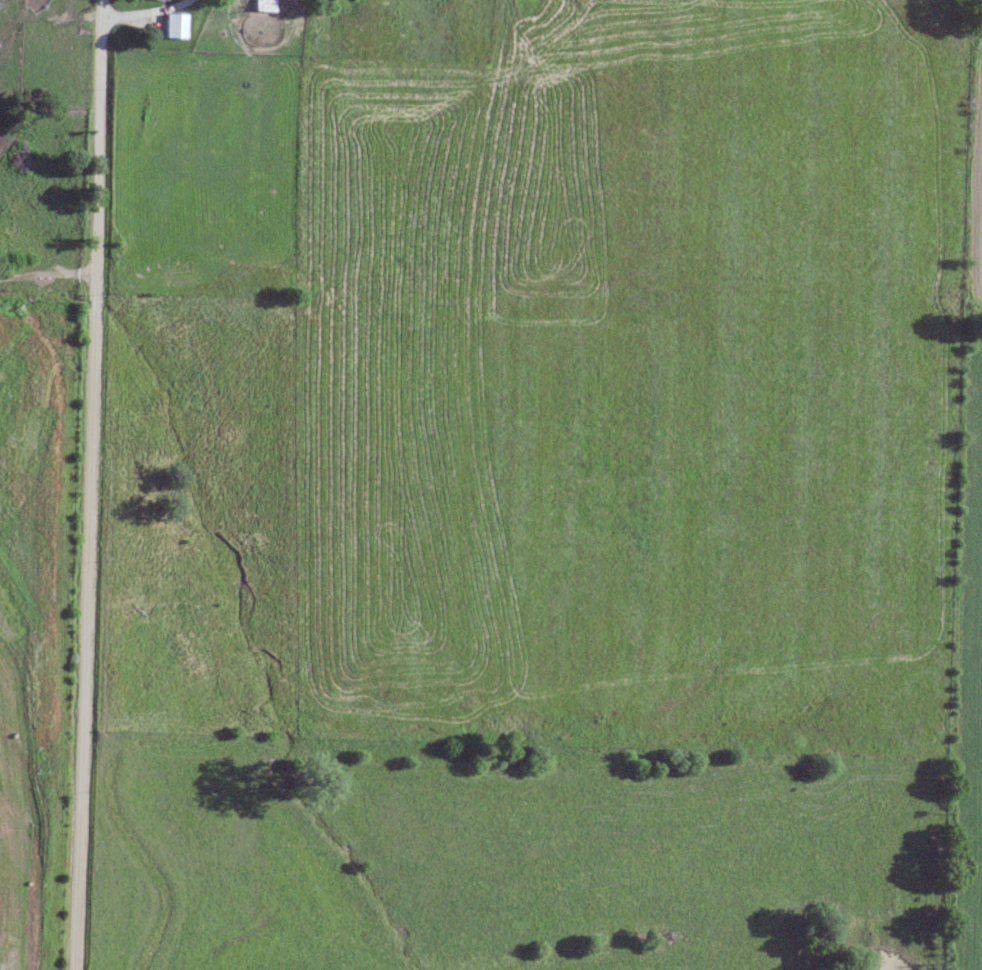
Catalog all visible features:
building: (265, 5)
road: (144, 15)
building: (175, 27)
road: (46, 256)
road: (85, 484)
crop: (33, 619)

